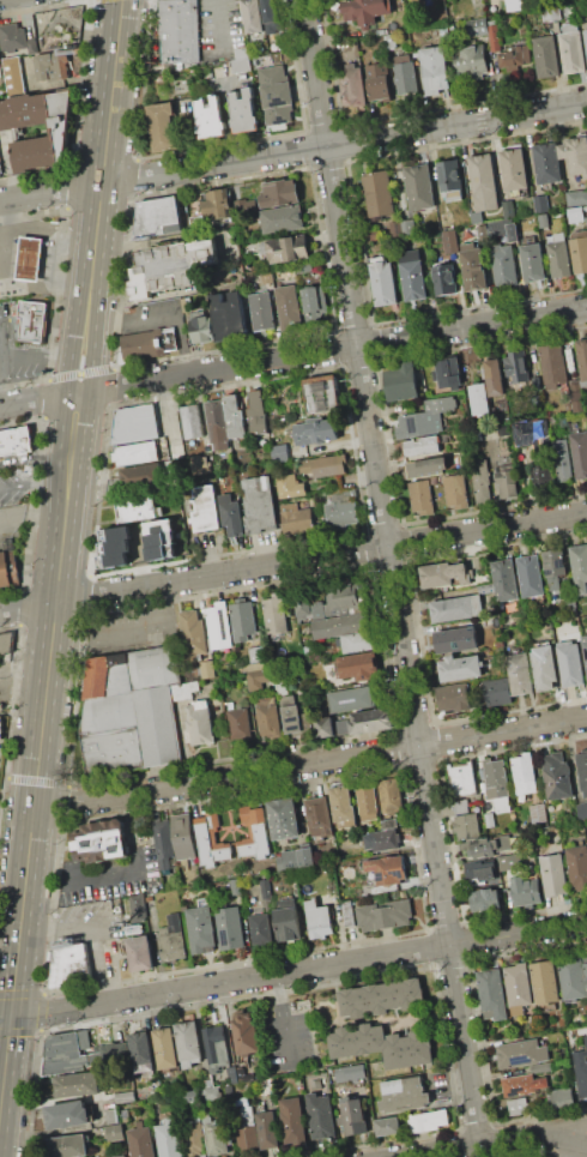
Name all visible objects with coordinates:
building: (513, 5)
building: (365, 11)
building: (551, 14)
building: (253, 16)
building: (272, 16)
building: (476, 26)
road: (219, 28)
building: (180, 30)
building: (586, 36)
building: (12, 37)
building: (494, 37)
building: (271, 44)
building: (32, 46)
building: (571, 49)
building: (514, 55)
building: (545, 55)
building: (241, 60)
building: (261, 61)
building: (471, 61)
building: (53, 65)
building: (1, 68)
building: (435, 70)
building: (405, 73)
building: (13, 74)
building: (379, 82)
building: (352, 85)
building: (276, 95)
building: (243, 110)
building: (211, 117)
building: (12, 127)
building: (163, 127)
road: (292, 151)
building: (575, 153)
building: (546, 162)
building: (514, 169)
building: (450, 179)
building: (484, 182)
building: (419, 186)
building: (279, 193)
building: (379, 194)
building: (576, 197)
building: (217, 204)
building: (540, 204)
building: (241, 206)
building: (586, 207)
building: (508, 209)
building: (575, 213)
building: (158, 217)
building: (489, 217)
building: (282, 218)
building: (544, 221)
building: (407, 227)
building: (395, 228)
building: (513, 233)
building: (483, 234)
building: (374, 235)
building: (449, 241)
building: (284, 249)
building: (579, 251)
building: (30, 258)
building: (559, 259)
building: (532, 261)
building: (504, 265)
building: (473, 266)
building: (170, 267)
building: (304, 267)
building: (412, 275)
building: (267, 277)
building: (444, 278)
building: (383, 283)
building: (314, 303)
building: (290, 308)
building: (261, 311)
road: (163, 315)
building: (228, 317)
building: (32, 319)
building: (201, 329)
building: (147, 343)
road: (41, 354)
road: (292, 356)
building: (582, 357)
building: (553, 364)
building: (518, 366)
building: (448, 373)
building: (495, 376)
building: (401, 381)
building: (577, 394)
building: (323, 396)
building: (479, 398)
building: (258, 412)
building: (234, 416)
building: (425, 418)
building: (190, 421)
building: (134, 423)
building: (217, 423)
building: (503, 430)
building: (316, 432)
building: (531, 432)
building: (16, 440)
building: (422, 445)
building: (279, 452)
building: (134, 453)
building: (580, 453)
road: (36, 458)
building: (562, 460)
building: (200, 463)
building: (325, 465)
building: (426, 466)
building: (135, 476)
building: (543, 477)
building: (480, 480)
building: (507, 481)
road: (34, 483)
building: (290, 486)
building: (455, 492)
building: (422, 496)
building: (261, 504)
building: (205, 507)
building: (139, 508)
building: (341, 513)
building: (232, 514)
road: (32, 516)
building: (296, 517)
building: (159, 540)
building: (114, 548)
road: (59, 558)
road: (292, 561)
building: (553, 566)
building: (579, 567)
building: (4, 570)
road: (392, 572)
building: (436, 574)
building: (529, 576)
building: (502, 580)
building: (345, 598)
building: (571, 605)
building: (302, 608)
building: (455, 608)
building: (319, 609)
building: (274, 615)
building: (243, 621)
building: (495, 621)
building: (219, 625)
building: (340, 625)
building: (547, 626)
road: (122, 628)
building: (193, 634)
building: (460, 639)
building: (6, 641)
building: (358, 641)
building: (585, 645)
building: (311, 650)
building: (258, 653)
building: (570, 663)
road: (24, 665)
building: (357, 665)
building: (544, 667)
building: (460, 668)
building: (207, 669)
building: (519, 673)
building: (259, 679)
building: (497, 692)
building: (453, 697)
building: (350, 699)
building: (0, 705)
building: (132, 711)
building: (268, 717)
building: (293, 717)
building: (371, 721)
building: (238, 722)
building: (199, 723)
building: (323, 727)
building: (341, 727)
building: (1, 733)
road: (310, 761)
building: (582, 770)
building: (524, 773)
building: (557, 776)
building: (496, 778)
building: (462, 779)
building: (392, 794)
building: (368, 801)
building: (343, 805)
building: (461, 805)
building: (580, 810)
building: (538, 814)
building: (319, 816)
building: (284, 818)
building: (489, 820)
building: (389, 822)
building: (467, 826)
building: (254, 832)
building: (183, 836)
building: (383, 839)
building: (98, 840)
building: (211, 840)
building: (163, 843)
building: (490, 846)
building: (295, 858)
road: (139, 867)
building: (577, 867)
building: (386, 869)
building: (482, 869)
building: (553, 875)
building: (344, 879)
building: (235, 887)
building: (265, 888)
building: (347, 890)
building: (526, 891)
building: (183, 892)
building: (485, 899)
building: (138, 908)
building: (347, 912)
building: (385, 915)
building: (319, 920)
parking lot: (90, 921)
building: (289, 923)
road: (54, 928)
building: (200, 928)
building: (230, 928)
building: (260, 928)
building: (171, 939)
building: (140, 953)
building: (585, 962)
road: (95, 963)
building: (69, 965)
road: (293, 971)
building: (571, 977)
building: (545, 982)
building: (518, 987)
building: (492, 994)
building: (382, 999)
traffic signals: (11, 1013)
road: (283, 1020)
building: (246, 1034)
building: (188, 1041)
building: (382, 1044)
building: (140, 1048)
building: (165, 1048)
building: (214, 1048)
building: (68, 1053)
building: (113, 1053)
building: (521, 1053)
building: (540, 1067)
building: (582, 1072)
building: (350, 1073)
building: (232, 1074)
building: (78, 1084)
building: (522, 1084)
building: (211, 1089)
building: (404, 1093)
building: (125, 1096)
building: (192, 1096)
building: (562, 1097)
building: (524, 1105)
building: (244, 1111)
building: (68, 1114)
building: (111, 1115)
building: (125, 1115)
building: (321, 1115)
building: (353, 1116)
building: (292, 1119)
building: (429, 1120)
building: (387, 1126)
road: (581, 1126)
building: (267, 1129)
road: (581, 1131)
building: (114, 1132)
building: (216, 1137)
building: (169, 1138)
building: (195, 1138)
building: (247, 1138)
building: (141, 1141)
road: (494, 1143)
road: (574, 1143)
building: (68, 1146)
building: (110, 1155)
building: (121, 1155)

